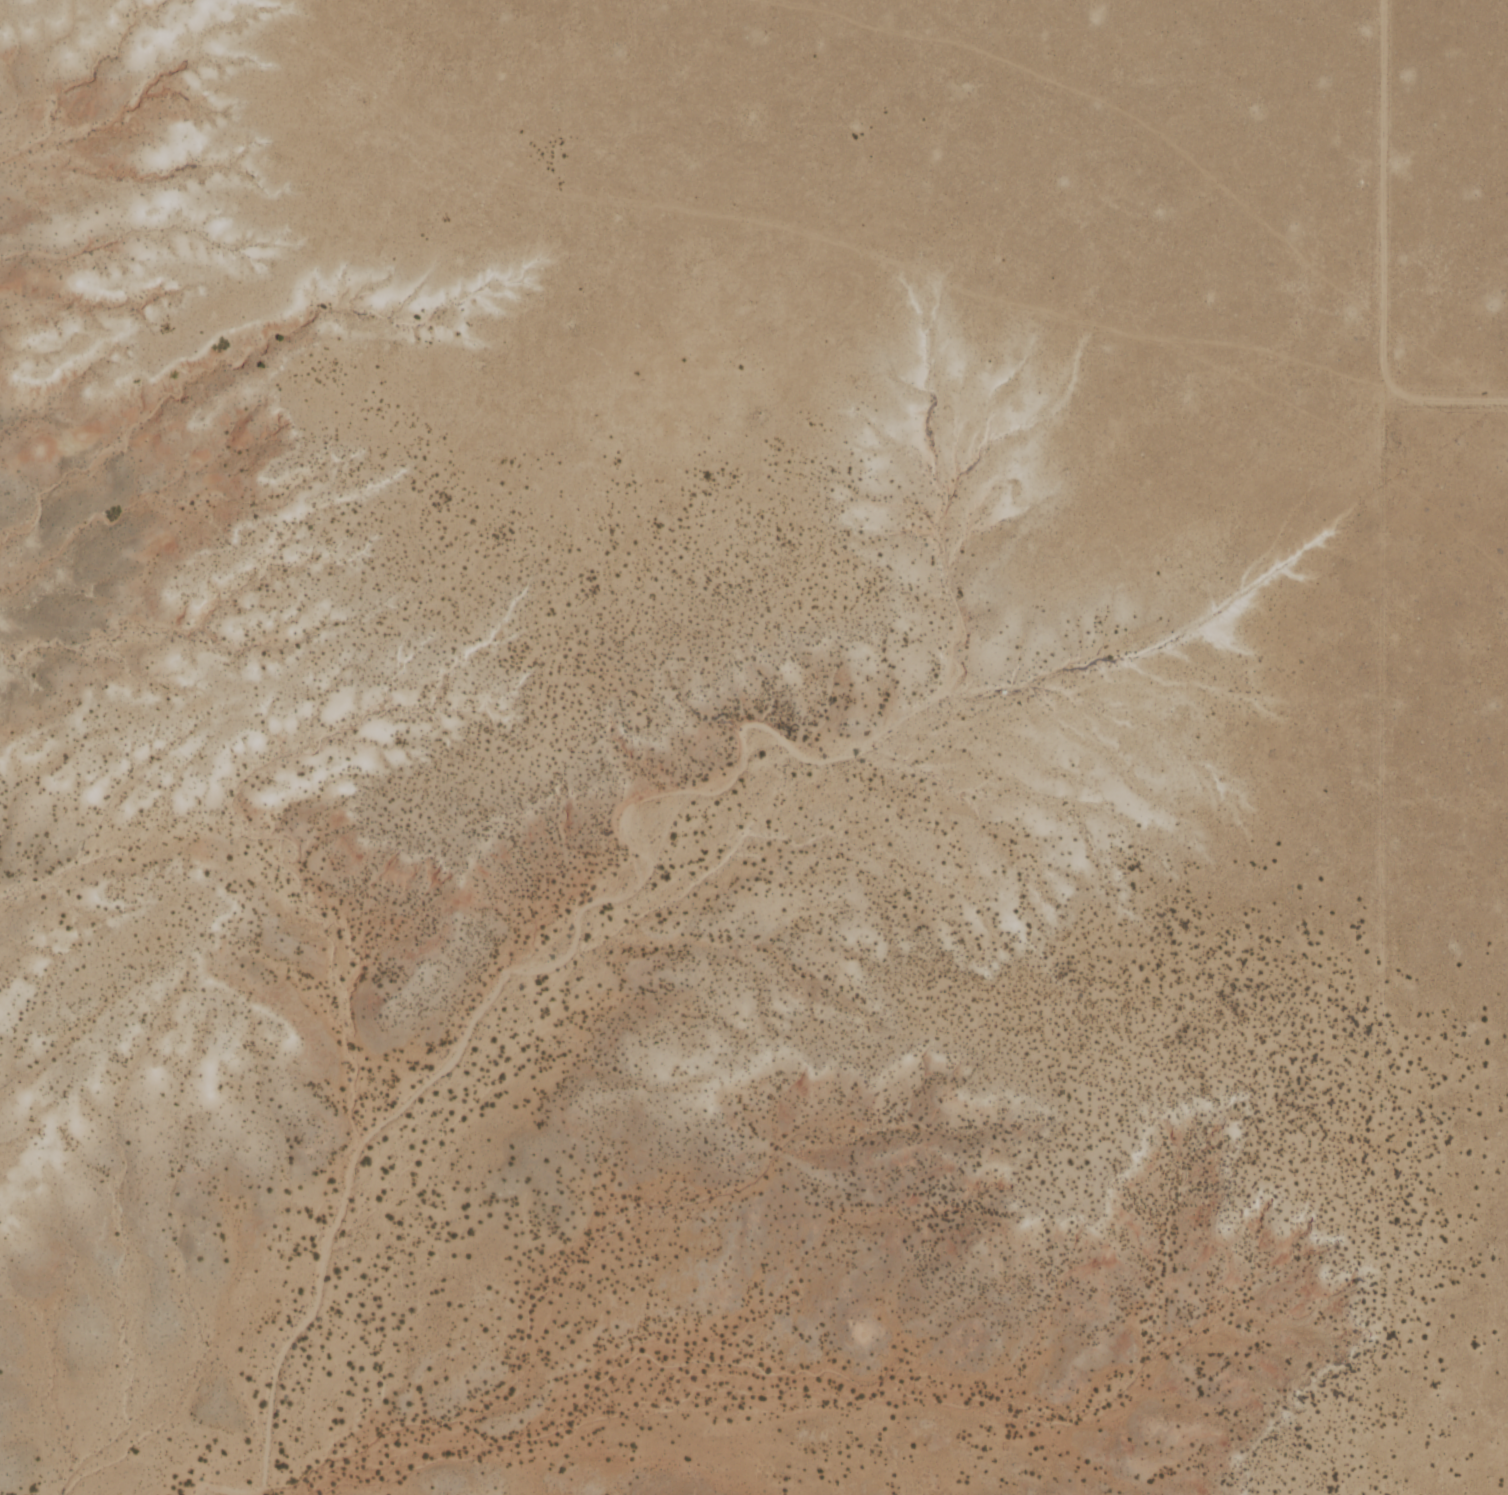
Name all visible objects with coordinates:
road: (1453, 408)
road: (1397, 747)

